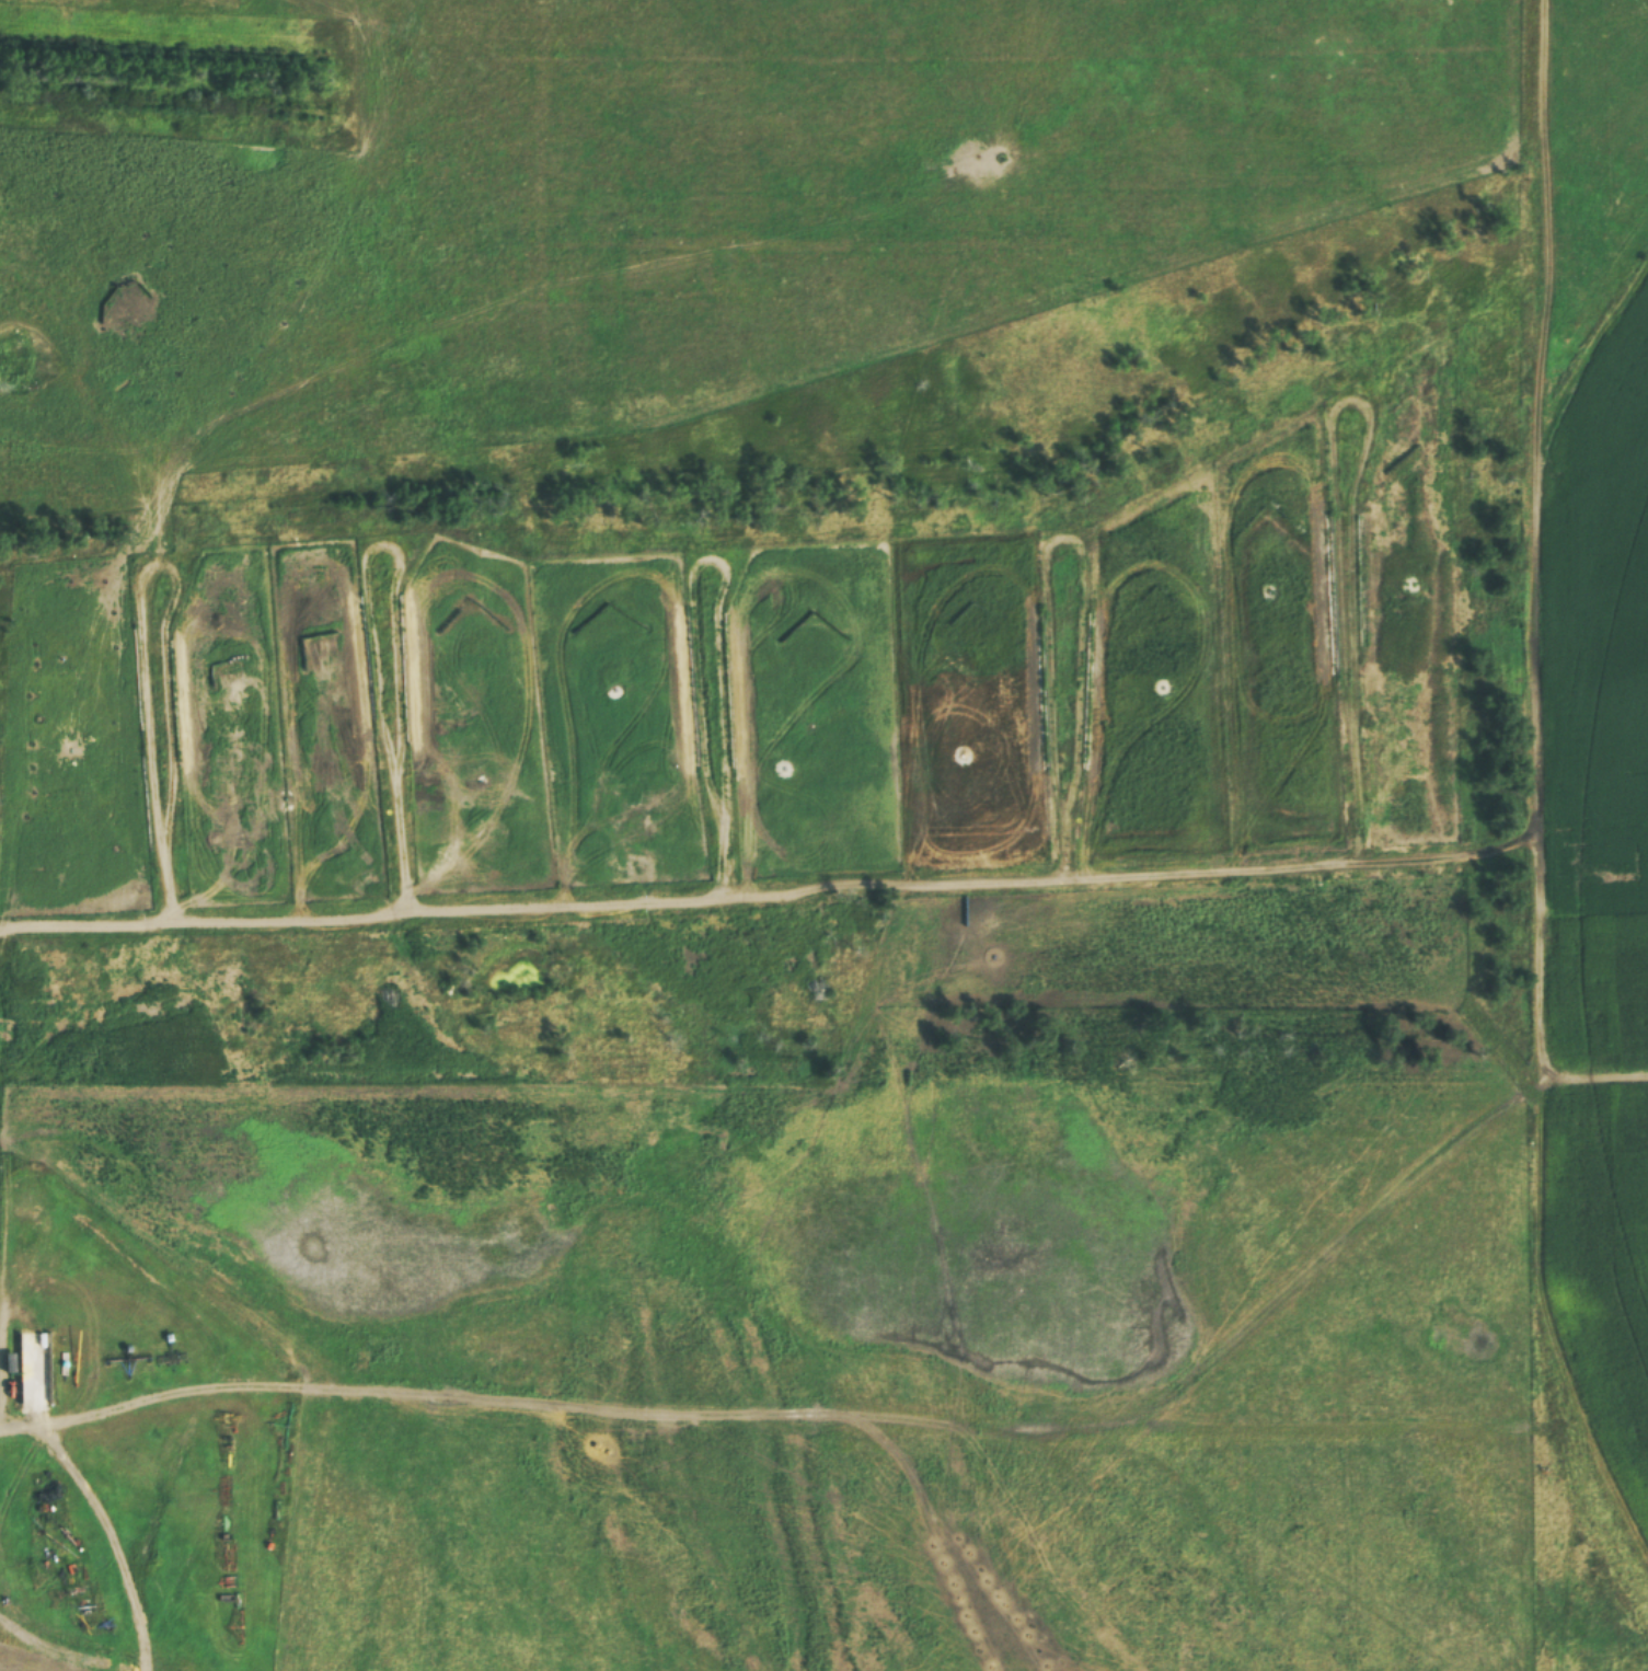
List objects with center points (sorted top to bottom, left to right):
building: (34, 1370)

